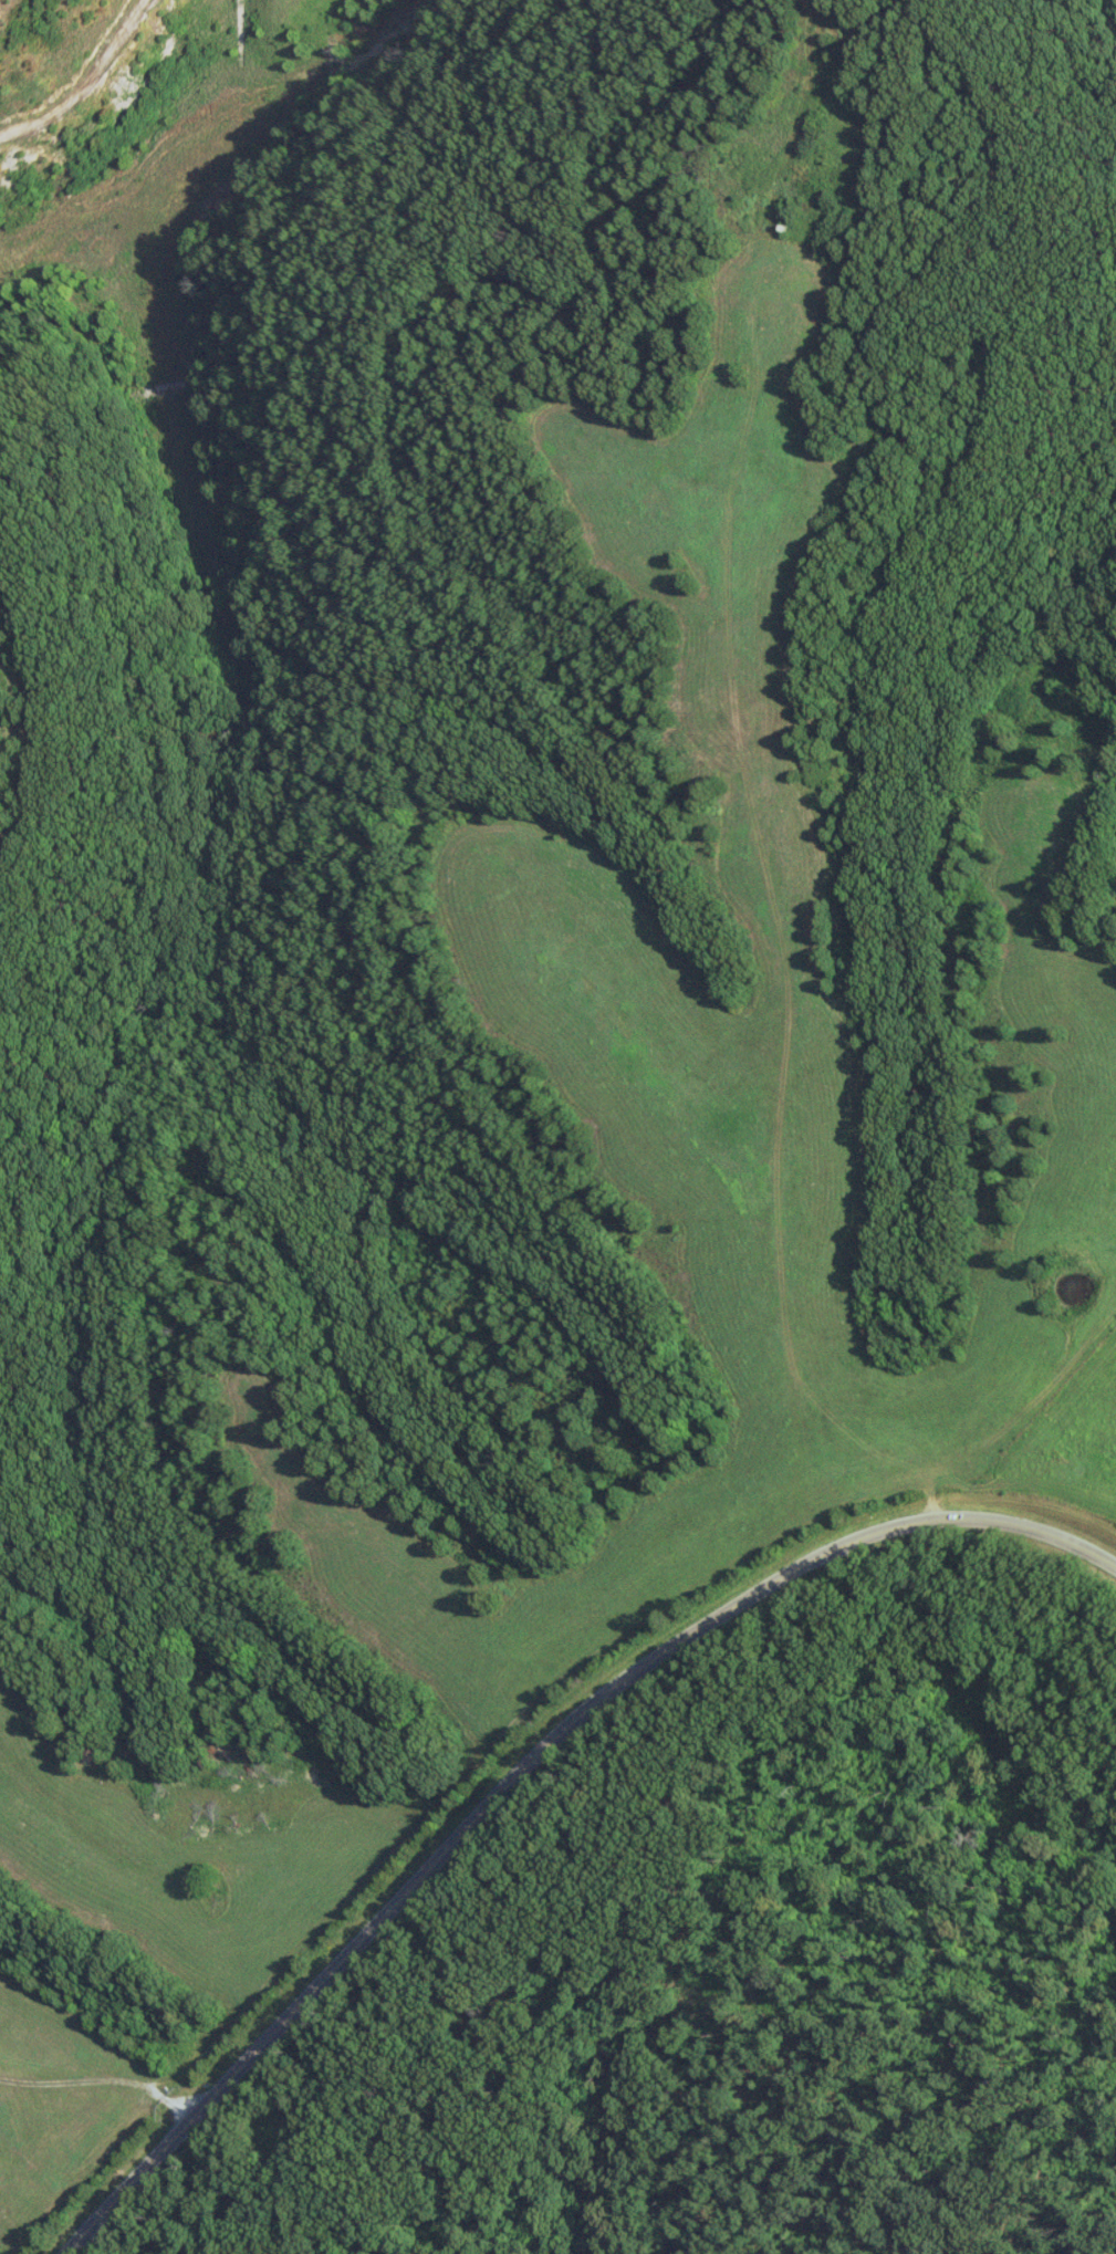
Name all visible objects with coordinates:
airport: (108, 80)
road: (529, 1766)

